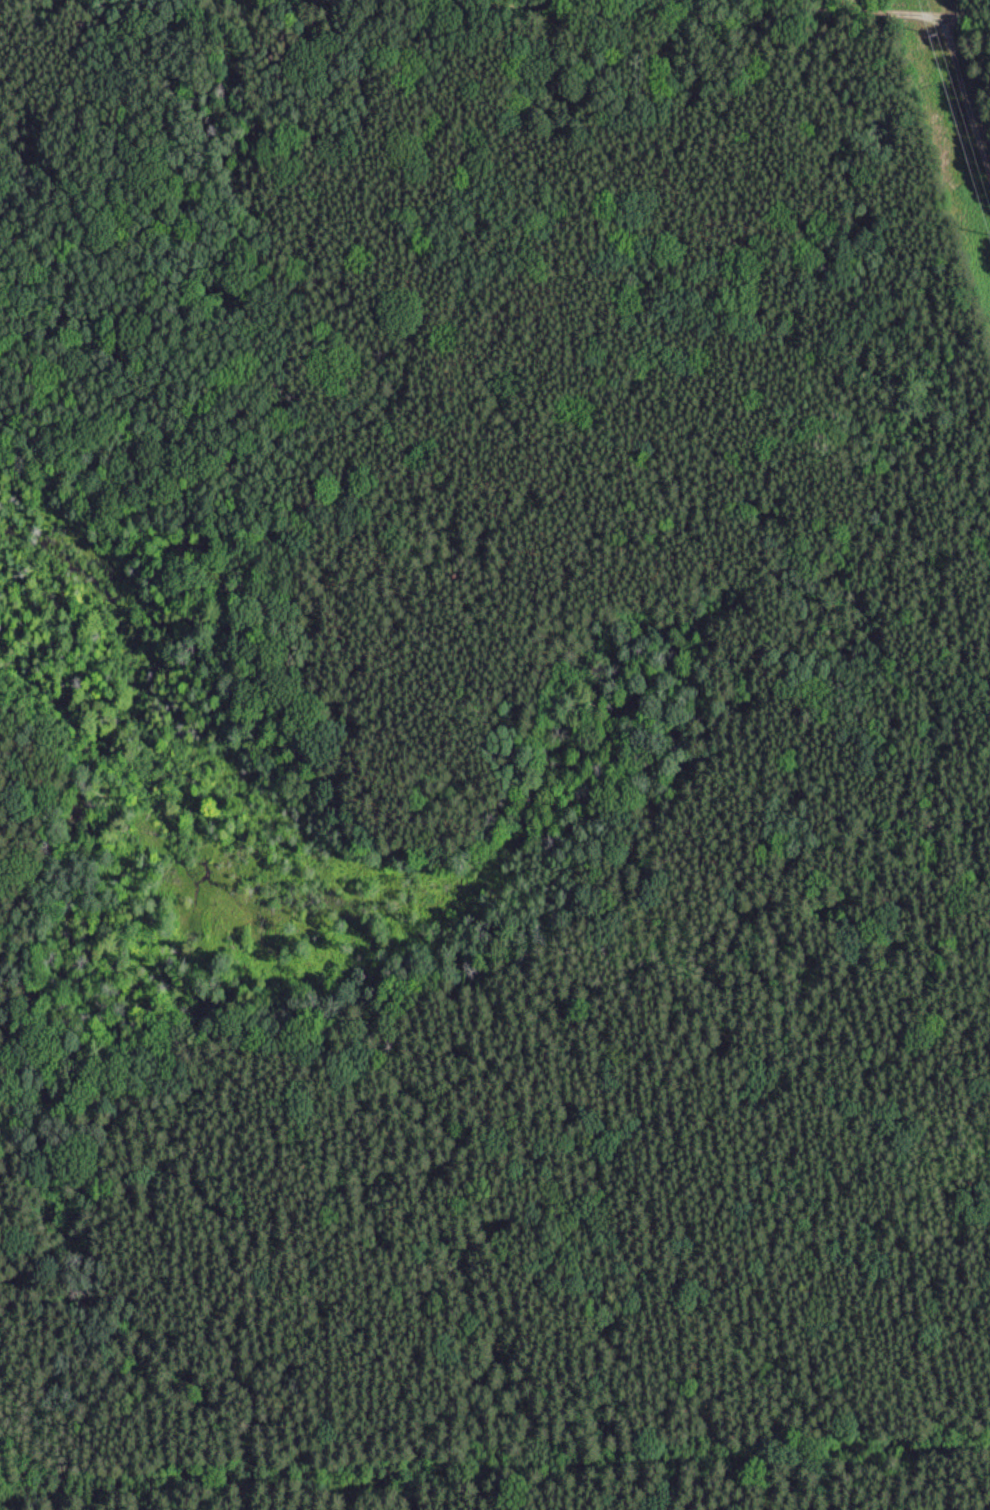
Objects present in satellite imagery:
road: (765, 4)
road: (967, 90)

